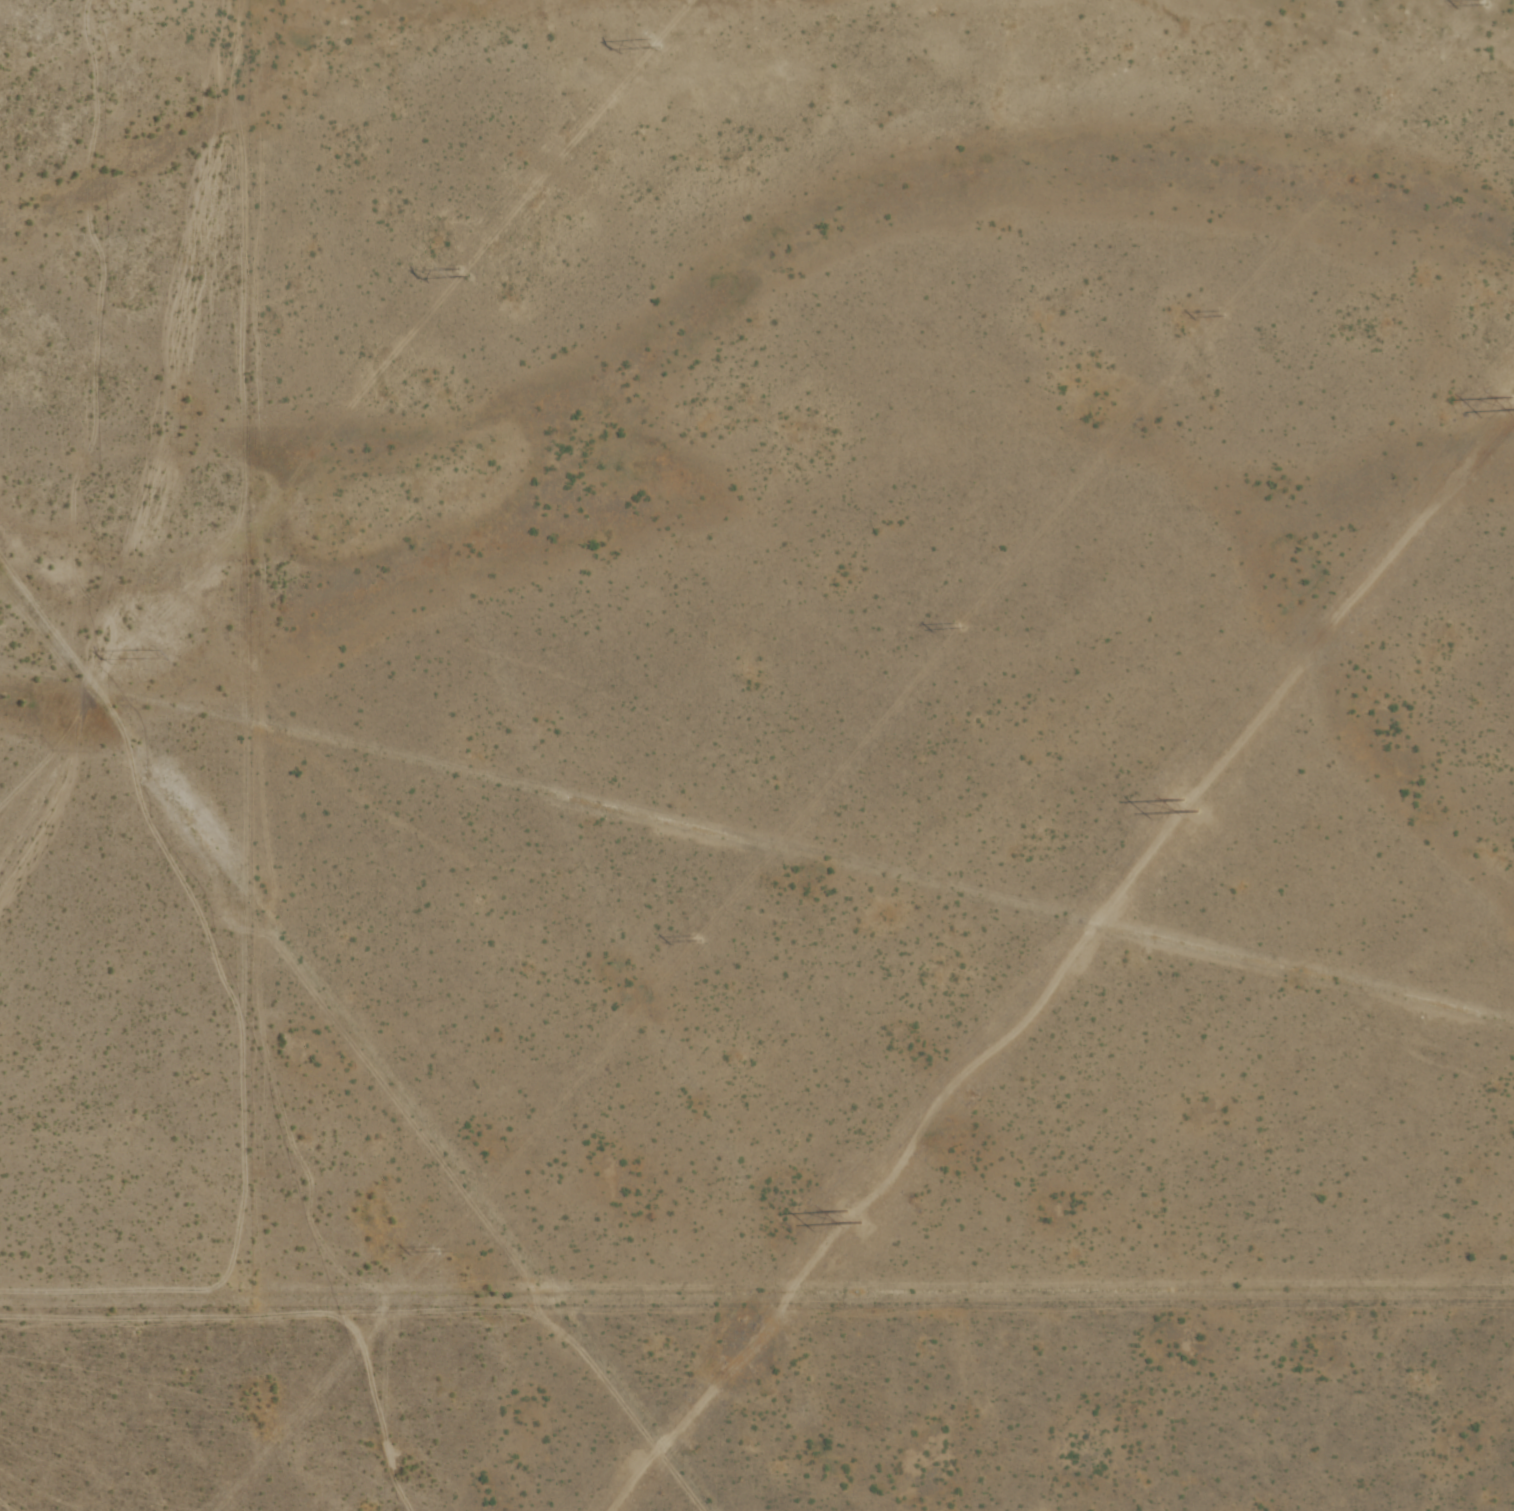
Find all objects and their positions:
power tower: (1484, 3)
power tower: (651, 40)
power tower: (459, 273)
power tower: (1220, 314)
power tower: (1510, 402)
power tower: (958, 625)
power tower: (138, 657)
power tower: (1182, 806)
power tower: (693, 938)
power tower: (842, 1218)
power tower: (430, 1249)

